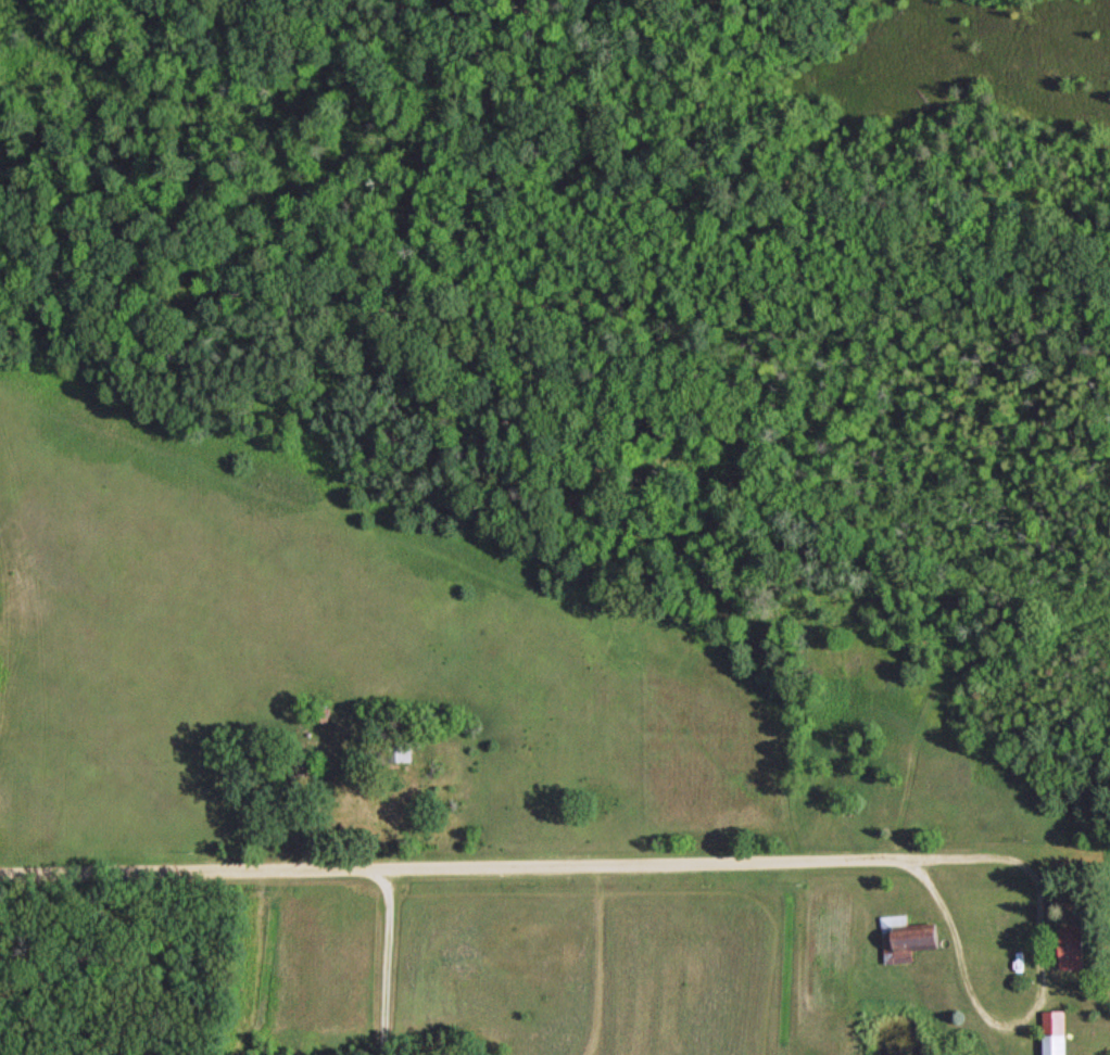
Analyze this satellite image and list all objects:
building: (403, 751)
road: (485, 860)
building: (911, 935)
building: (1060, 1032)

